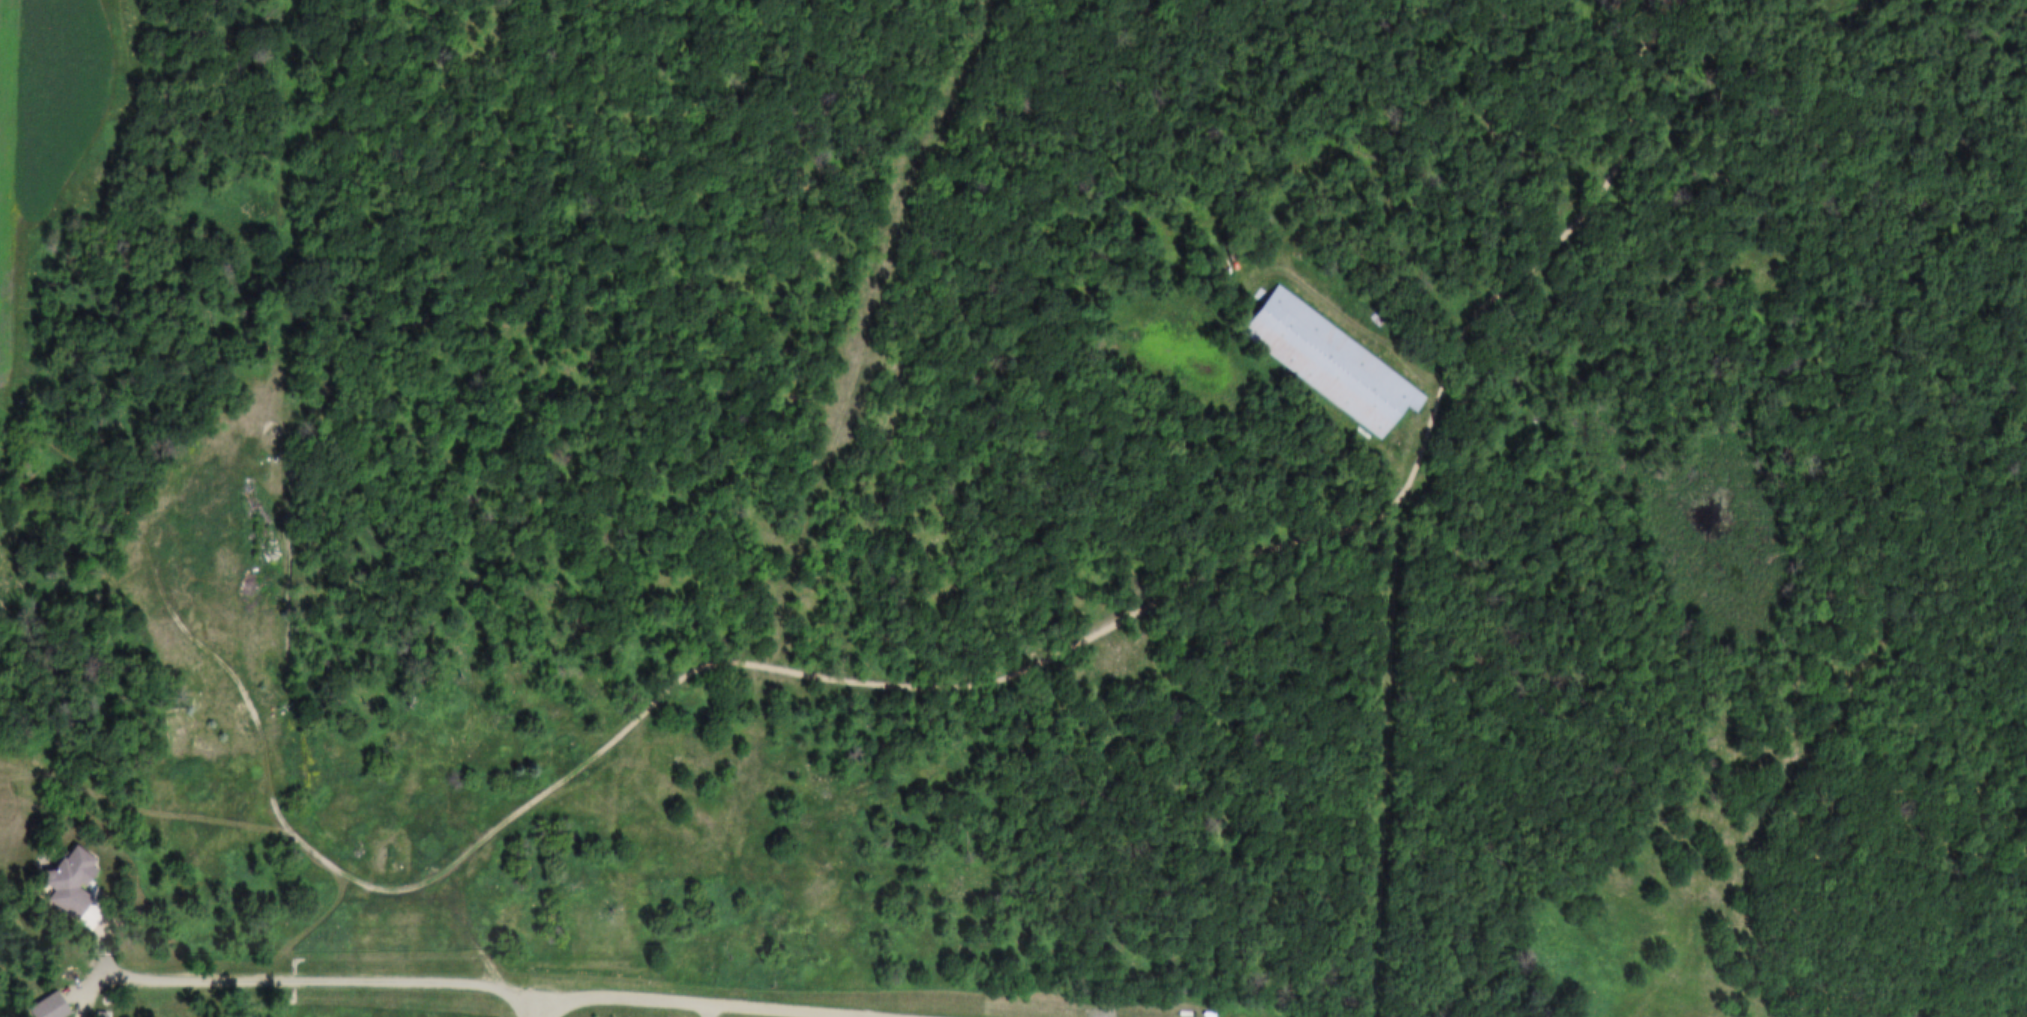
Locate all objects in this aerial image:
building: (1368, 318)
building: (1322, 360)
road: (721, 660)
road: (1389, 840)
building: (389, 860)
building: (59, 878)
road: (478, 940)
road: (92, 964)
road: (312, 980)
road: (715, 1003)
road: (532, 1005)
building: (38, 1006)

